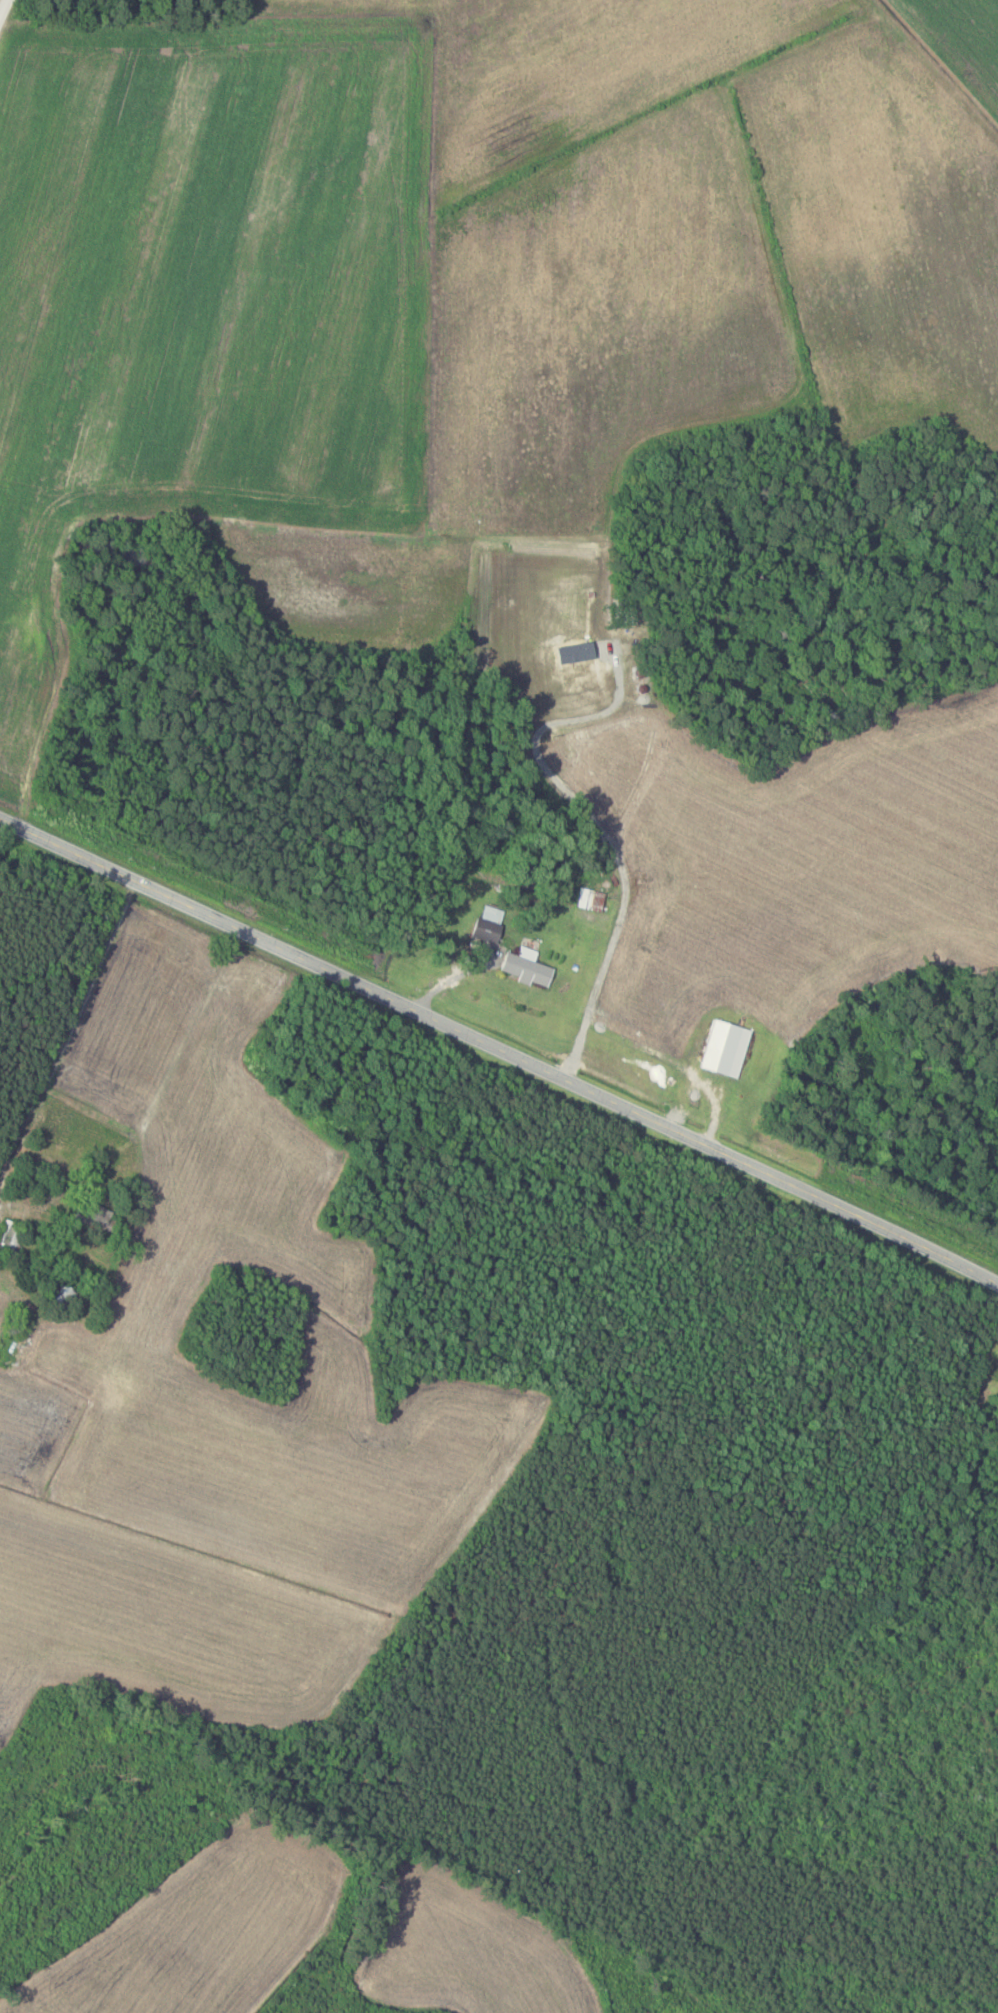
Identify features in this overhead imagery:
road: (1, 3)
road: (500, 1047)
road: (131, 1154)

